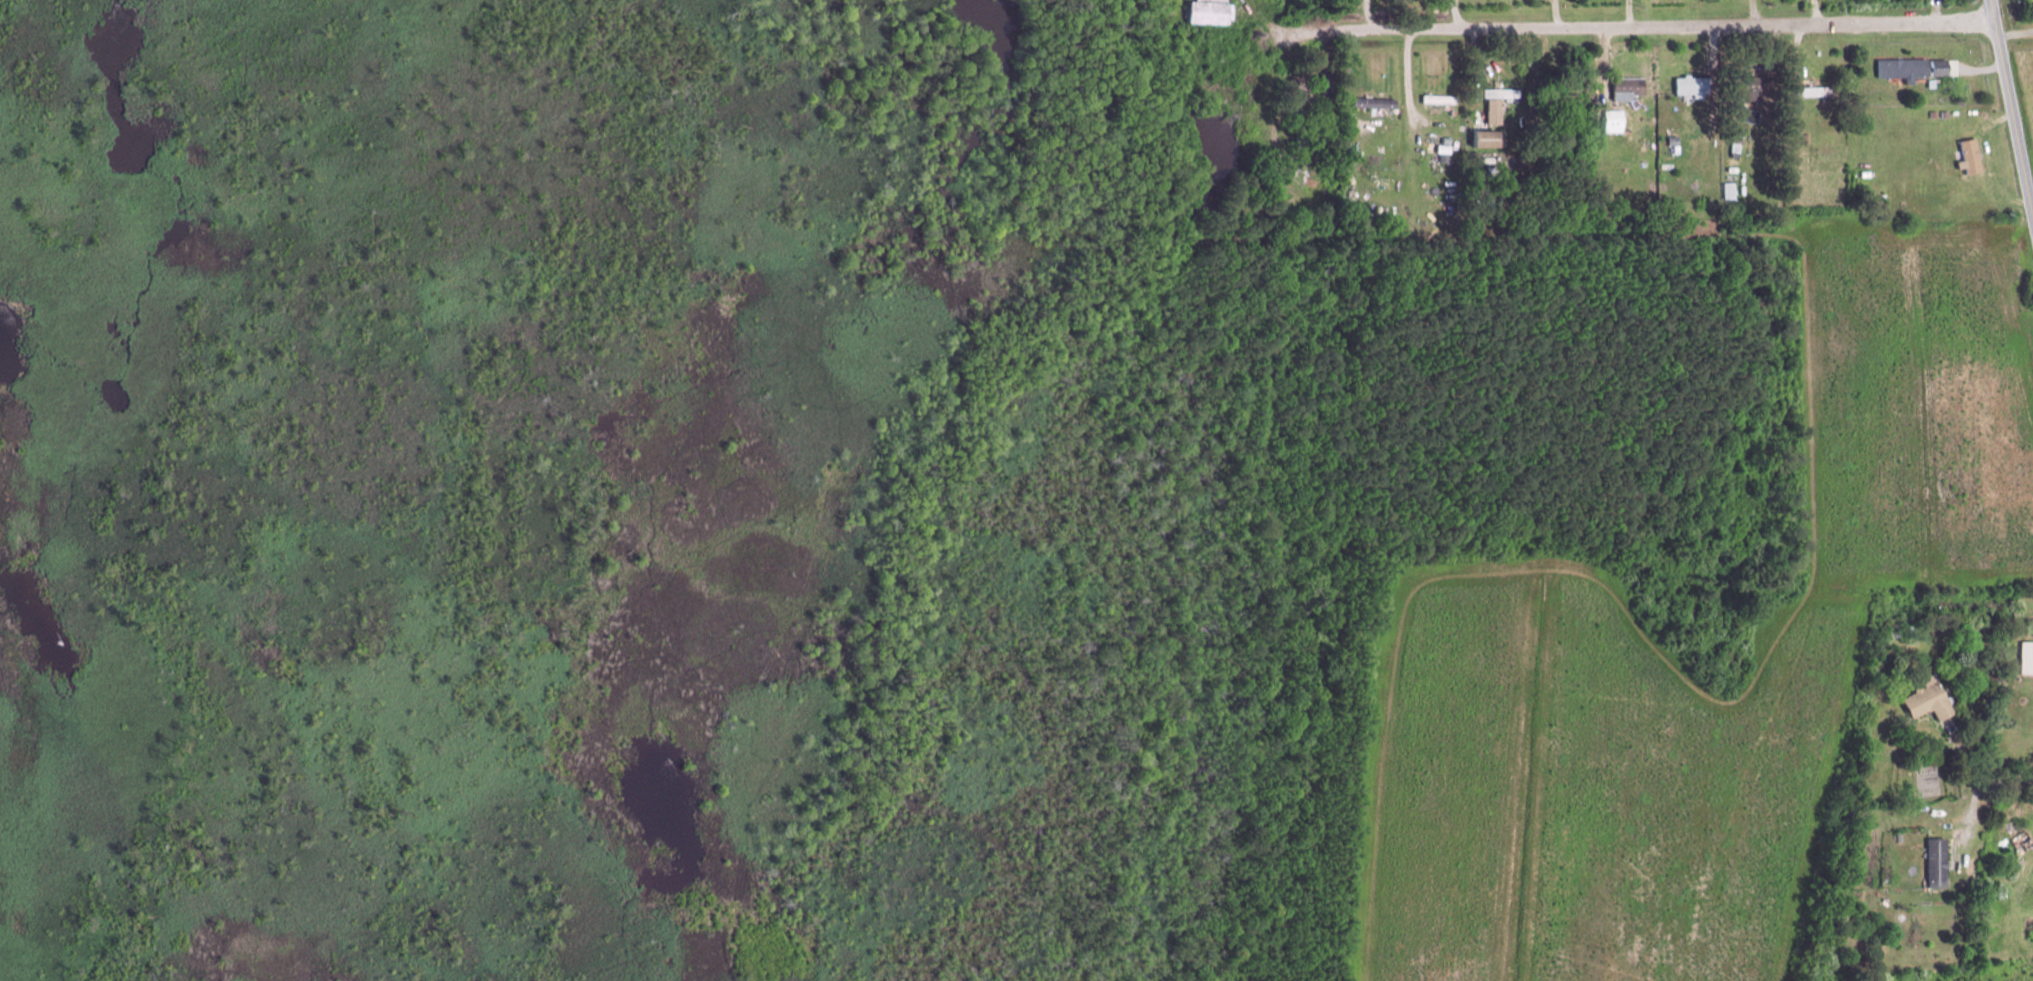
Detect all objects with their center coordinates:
building: (1205, 11)
road: (1628, 27)
road: (2016, 32)
building: (1936, 67)
building: (1900, 68)
building: (1324, 81)
crop: (2026, 83)
building: (1689, 85)
building: (1744, 86)
building: (1622, 88)
building: (1813, 90)
building: (1499, 92)
building: (1562, 97)
building: (1437, 98)
building: (1372, 102)
road: (2012, 102)
building: (1301, 127)
building: (1482, 138)
building: (1960, 159)
building: (2031, 626)
building: (2025, 657)
building: (1925, 701)
road: (1999, 783)
building: (1935, 862)

